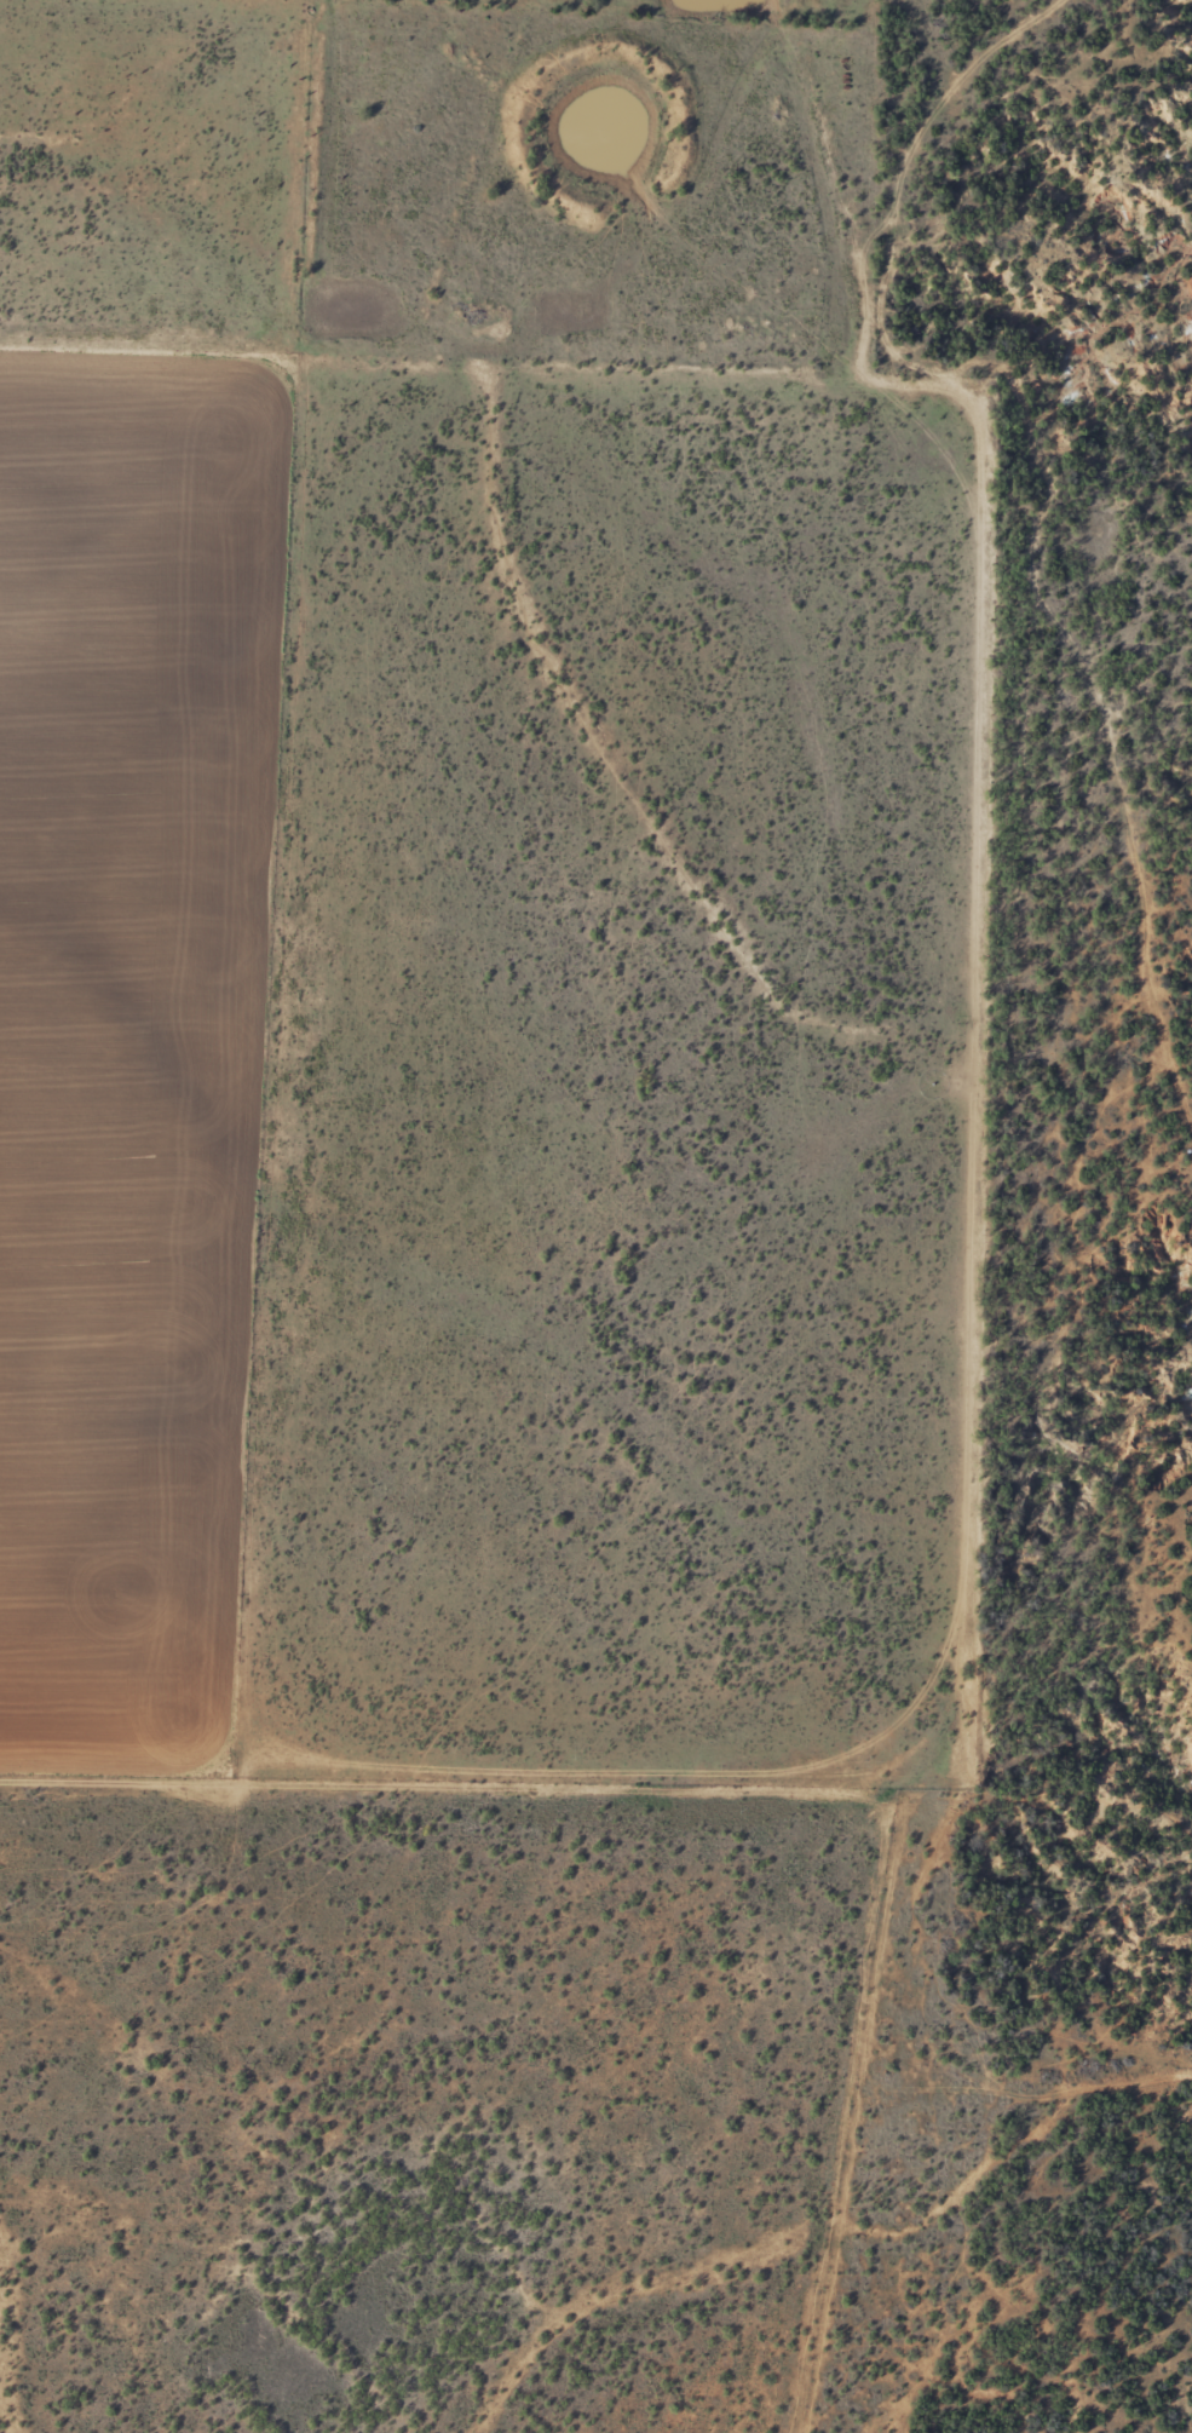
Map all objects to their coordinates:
road: (690, 1793)

